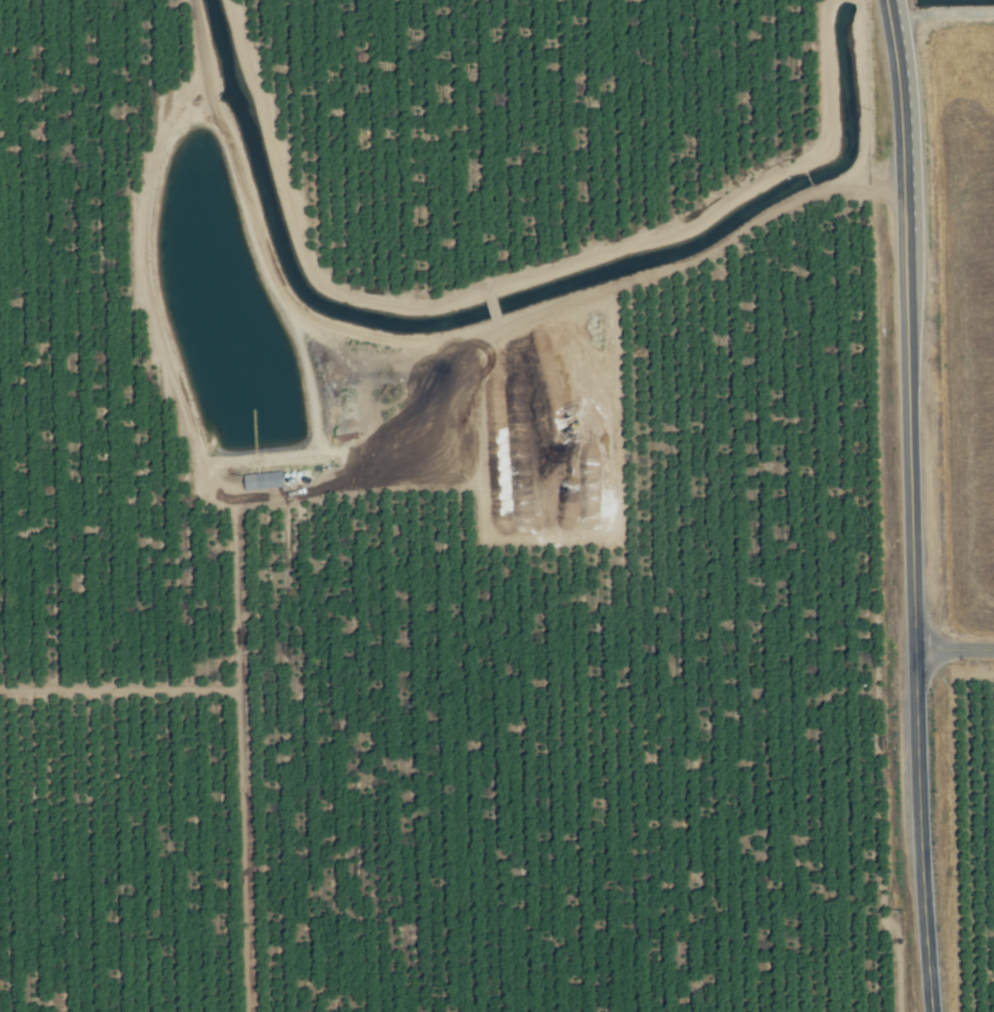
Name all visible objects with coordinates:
road: (666, 272)
road: (907, 506)
crop: (468, 518)
road: (952, 650)
road: (247, 768)

